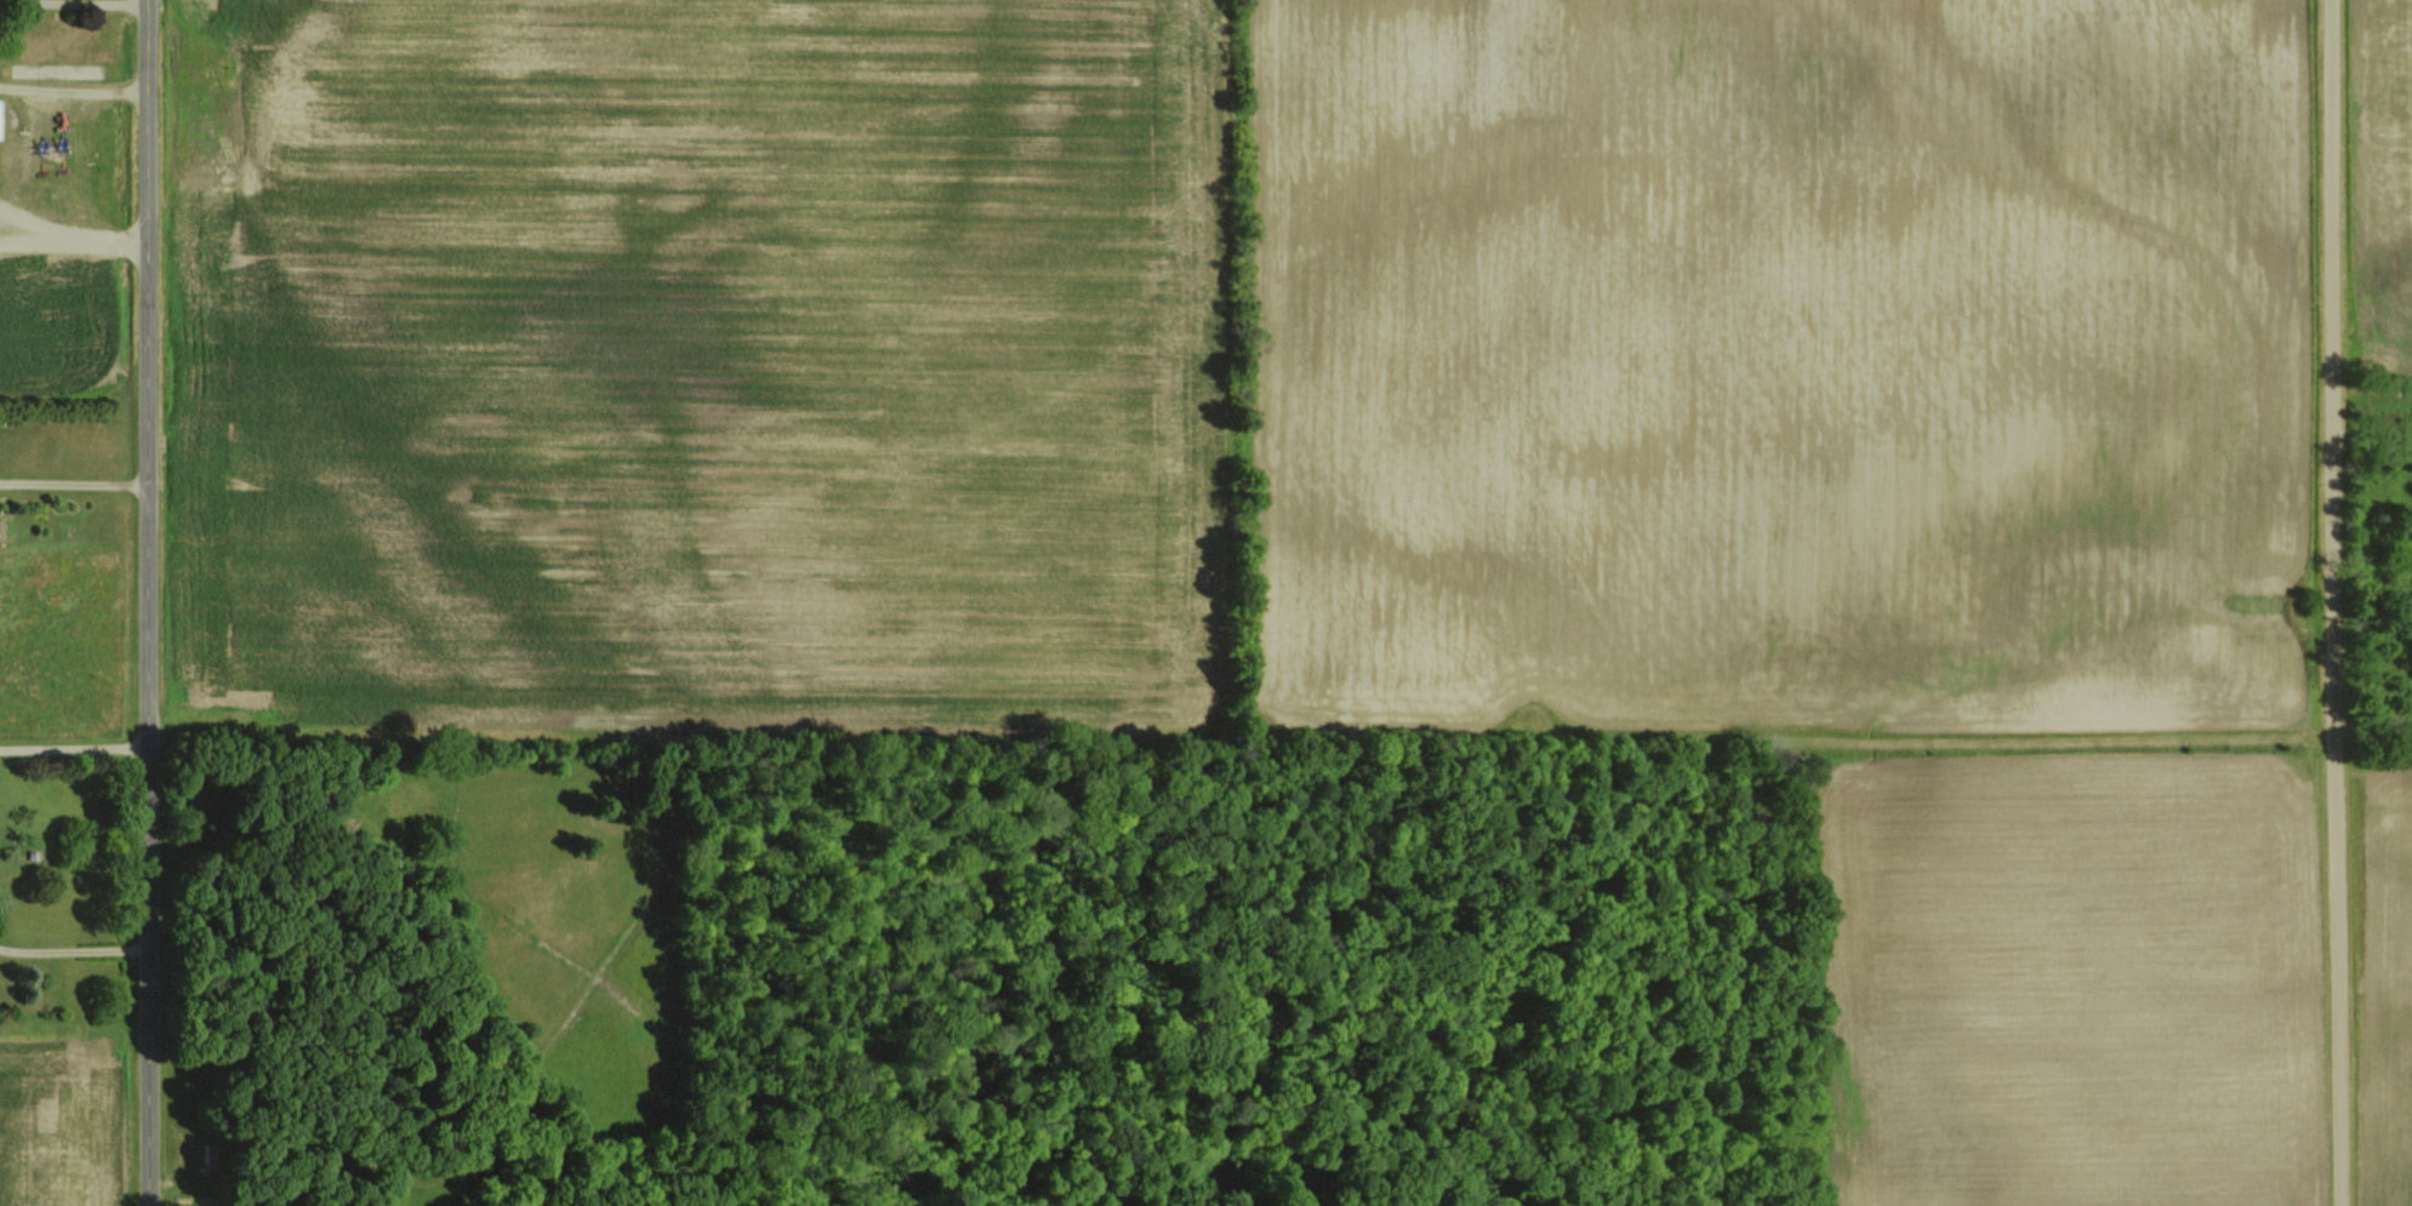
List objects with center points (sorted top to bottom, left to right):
road: (61, 0)
road: (73, 91)
building: (0, 118)
road: (69, 236)
road: (16, 242)
road: (73, 482)
road: (147, 602)
road: (2343, 602)
road: (73, 744)
road: (73, 947)

